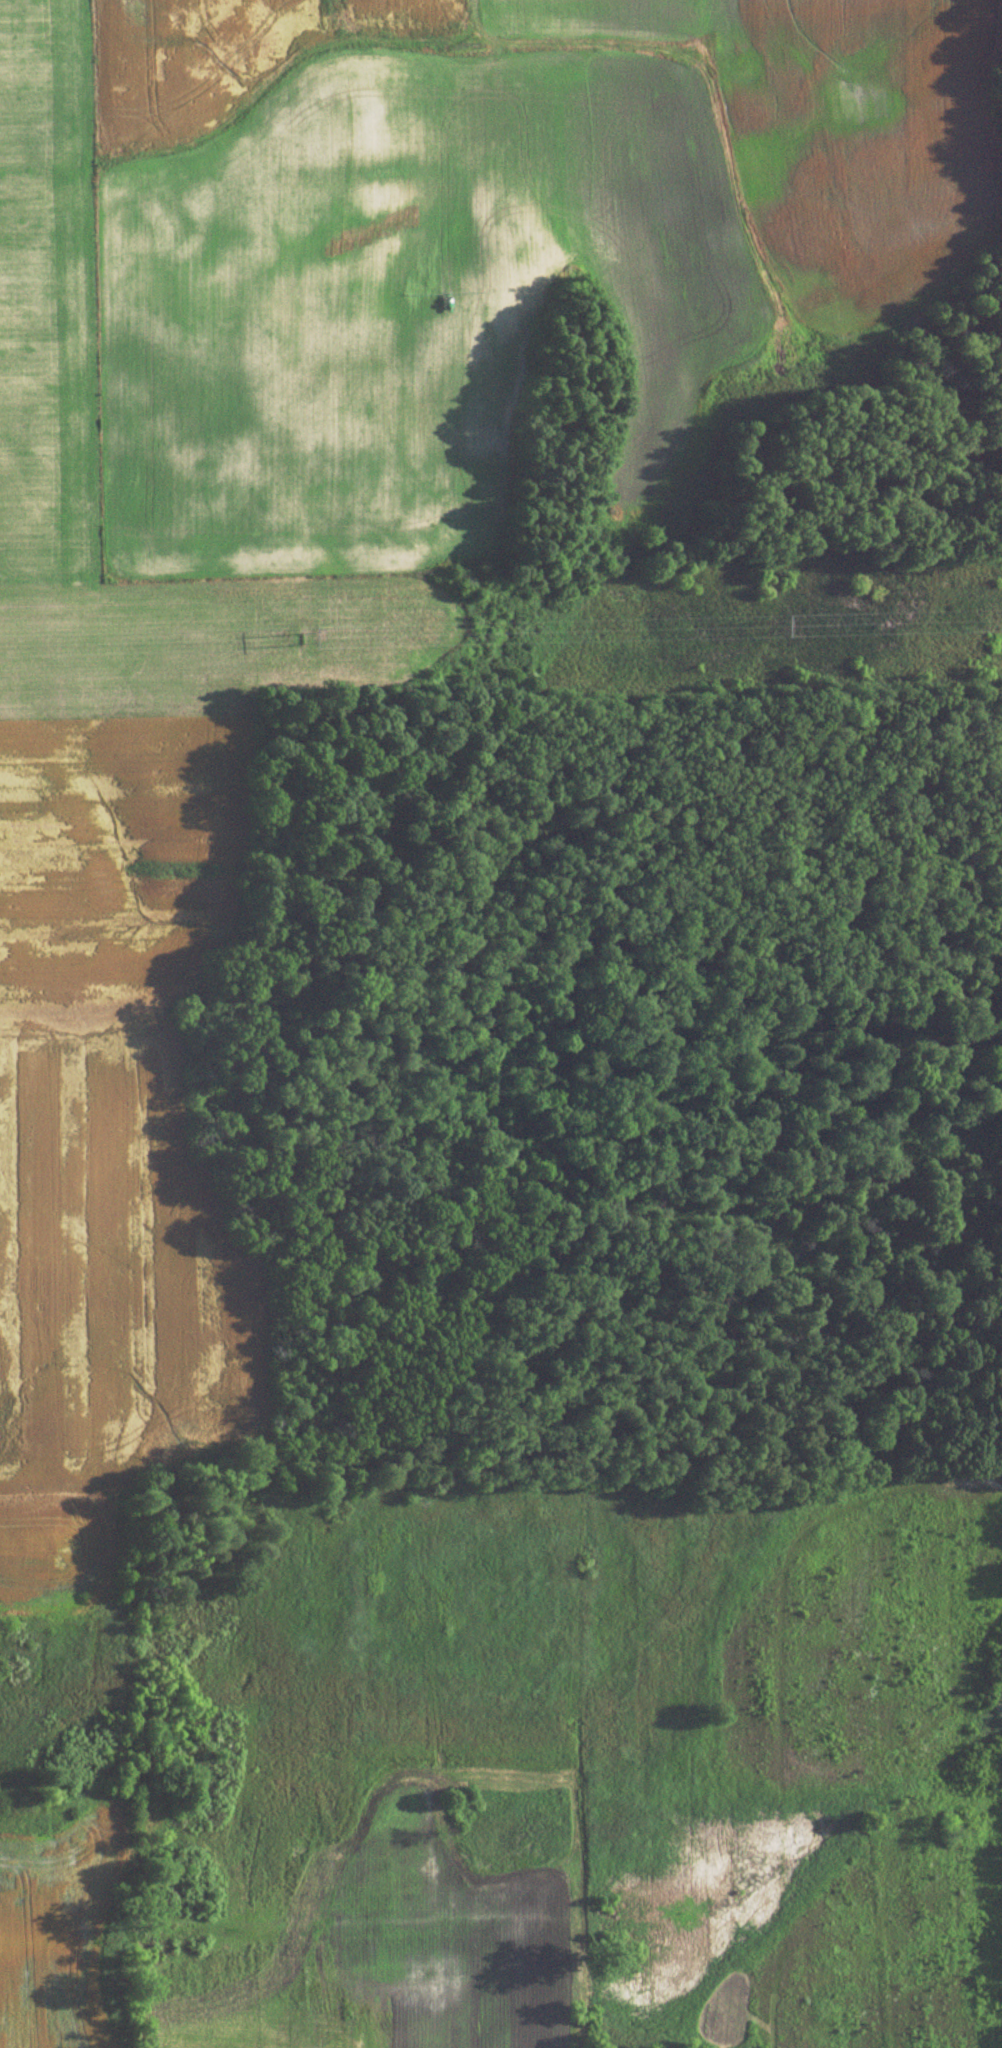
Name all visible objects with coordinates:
power tower: (771, 626)
power tower: (304, 640)

